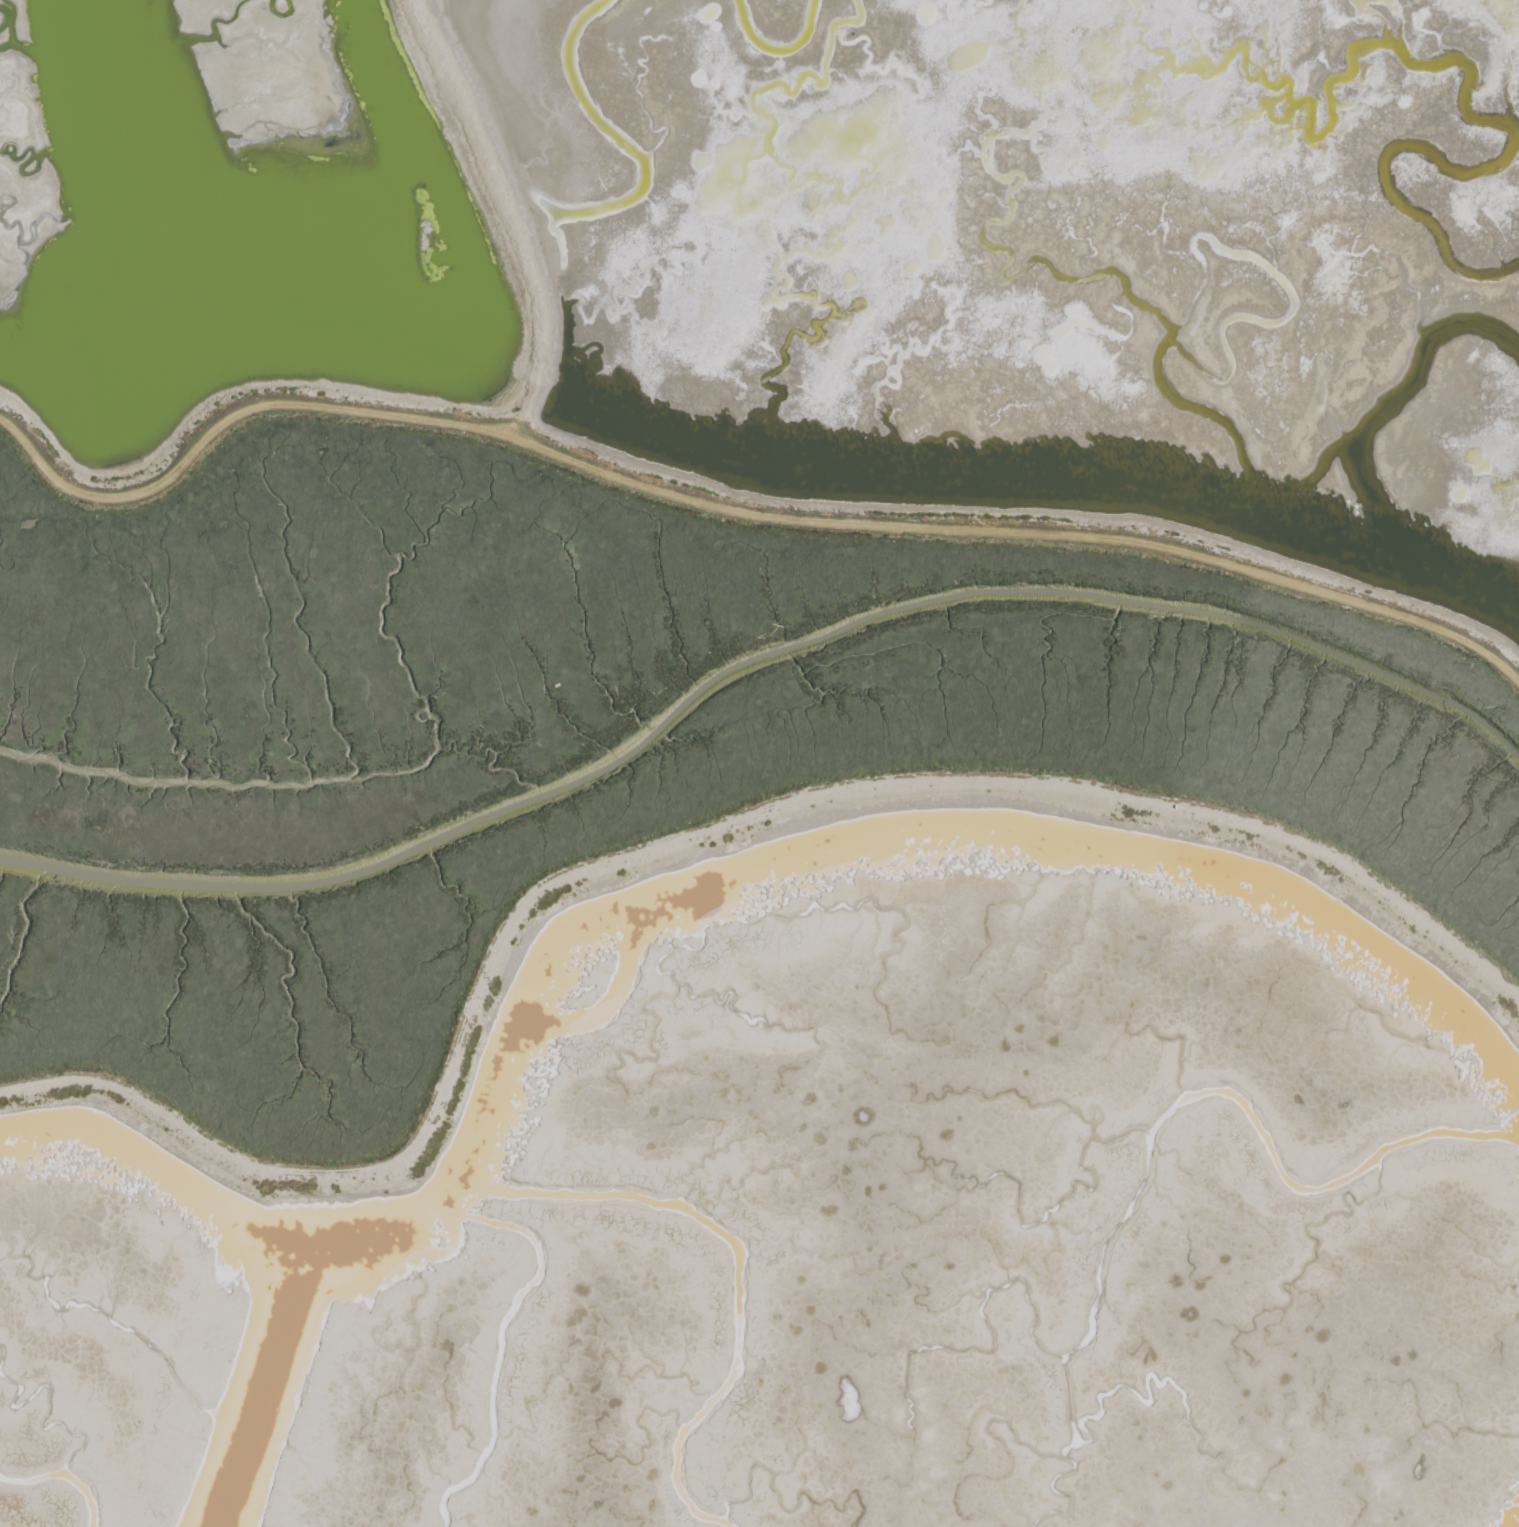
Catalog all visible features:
road: (734, 511)
road: (696, 843)

